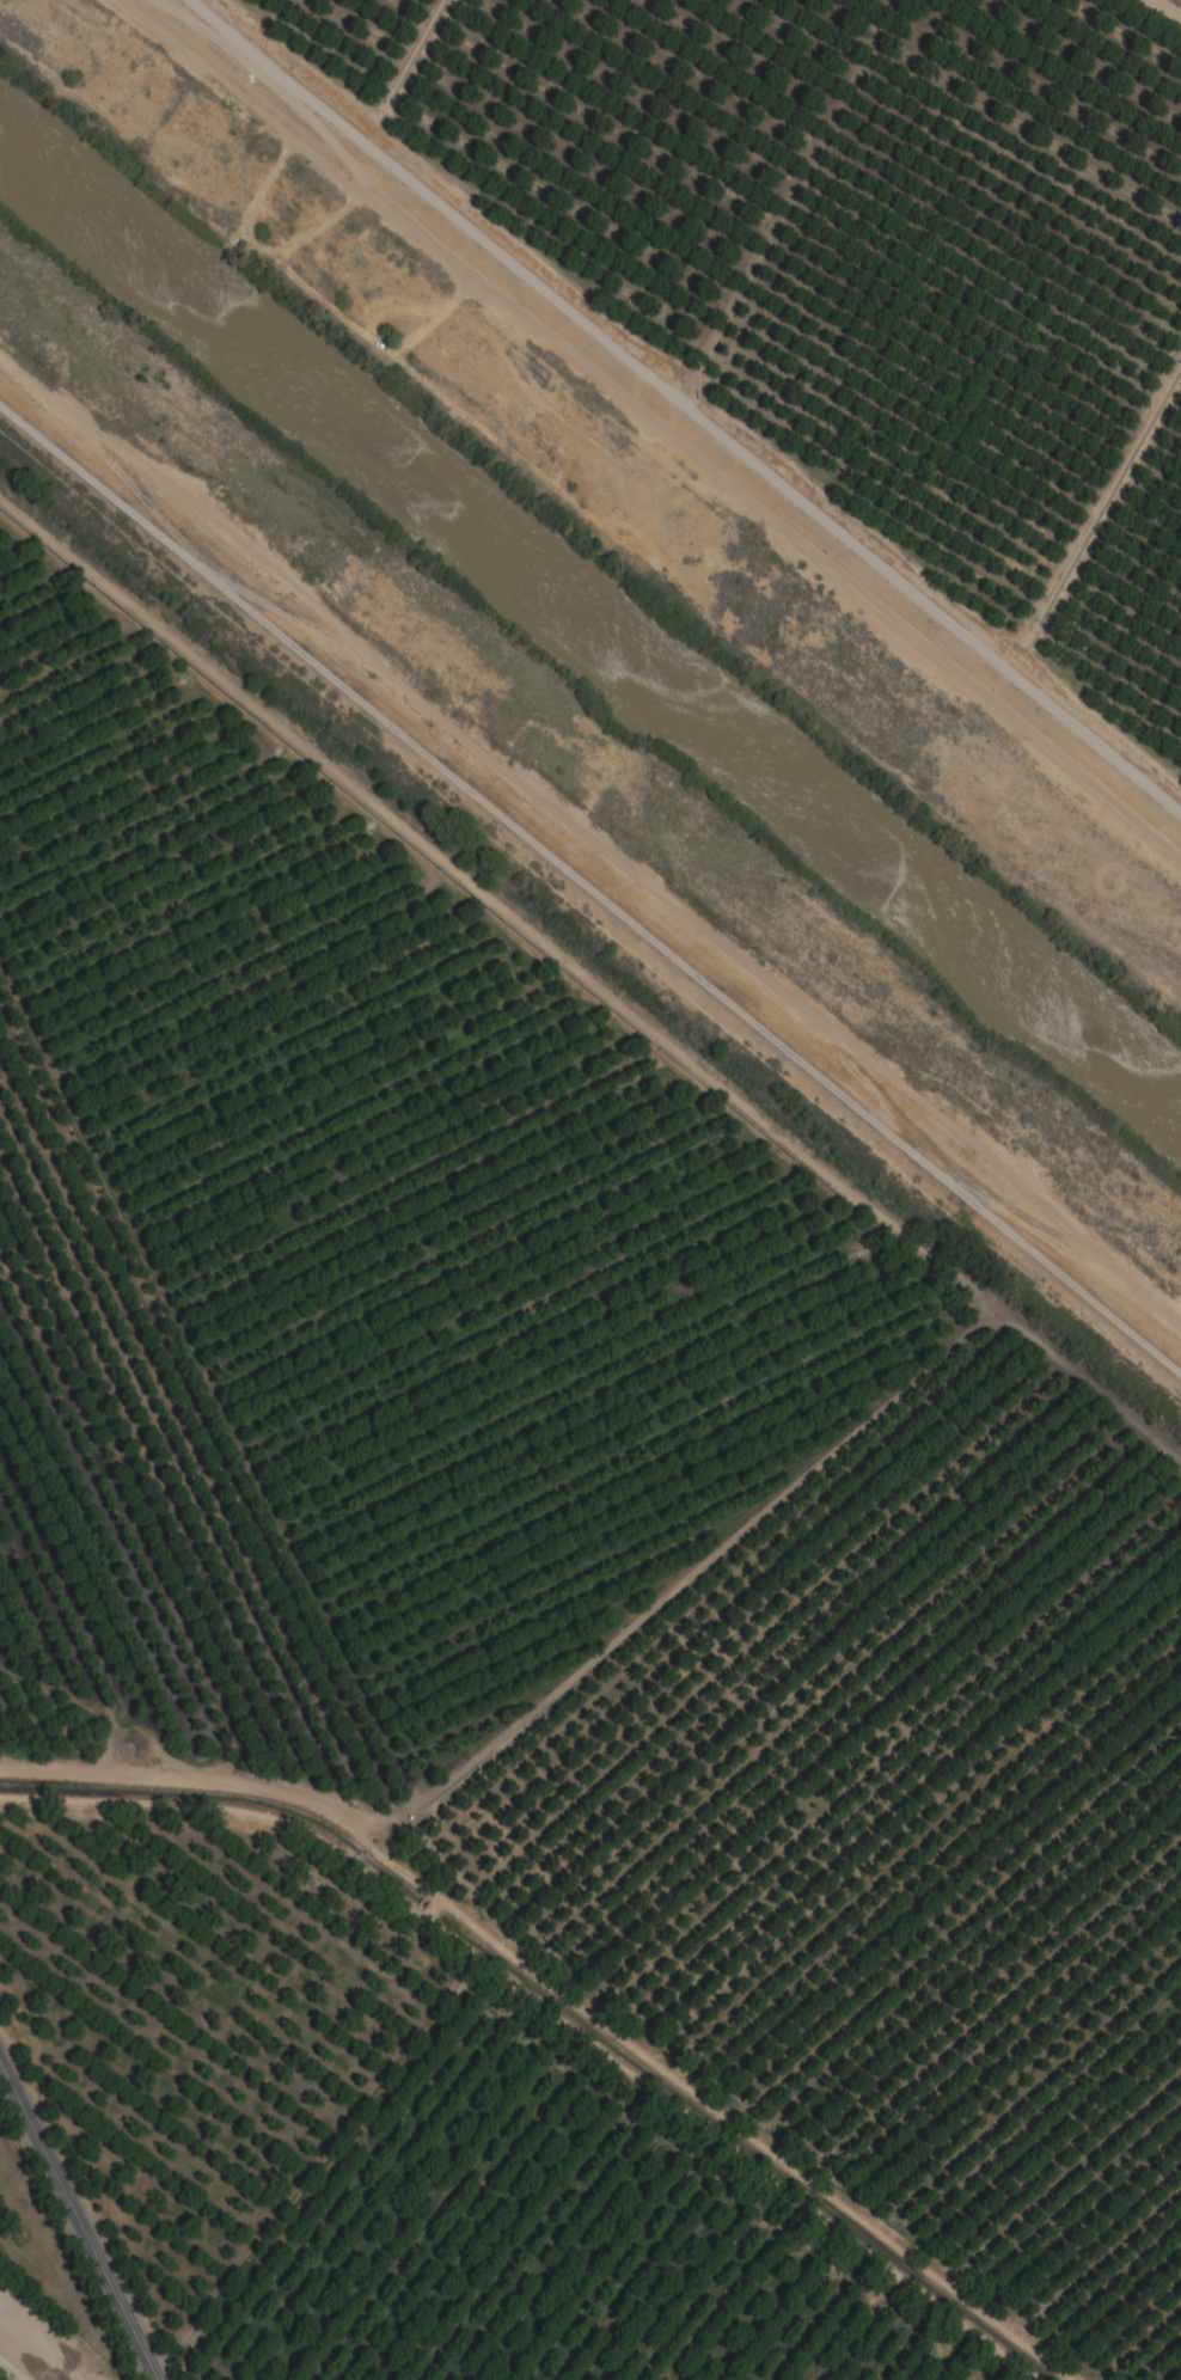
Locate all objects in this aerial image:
road: (1173, 4)
road: (684, 405)
river: (590, 616)
road: (590, 903)
road: (590, 980)
road: (538, 1691)
road: (551, 2012)
road: (709, 2107)
road: (77, 2223)

